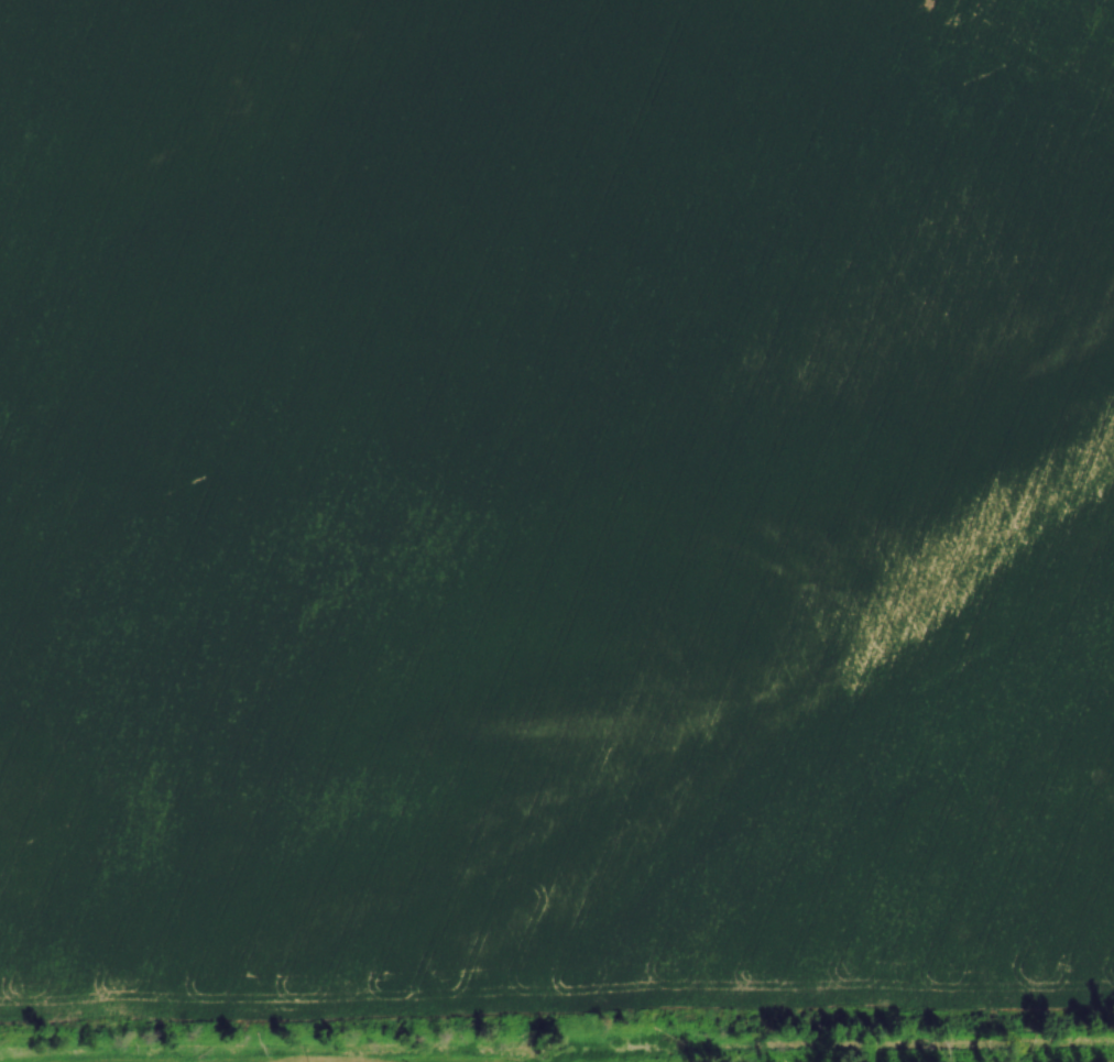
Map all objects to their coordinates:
park: (565, 1045)

